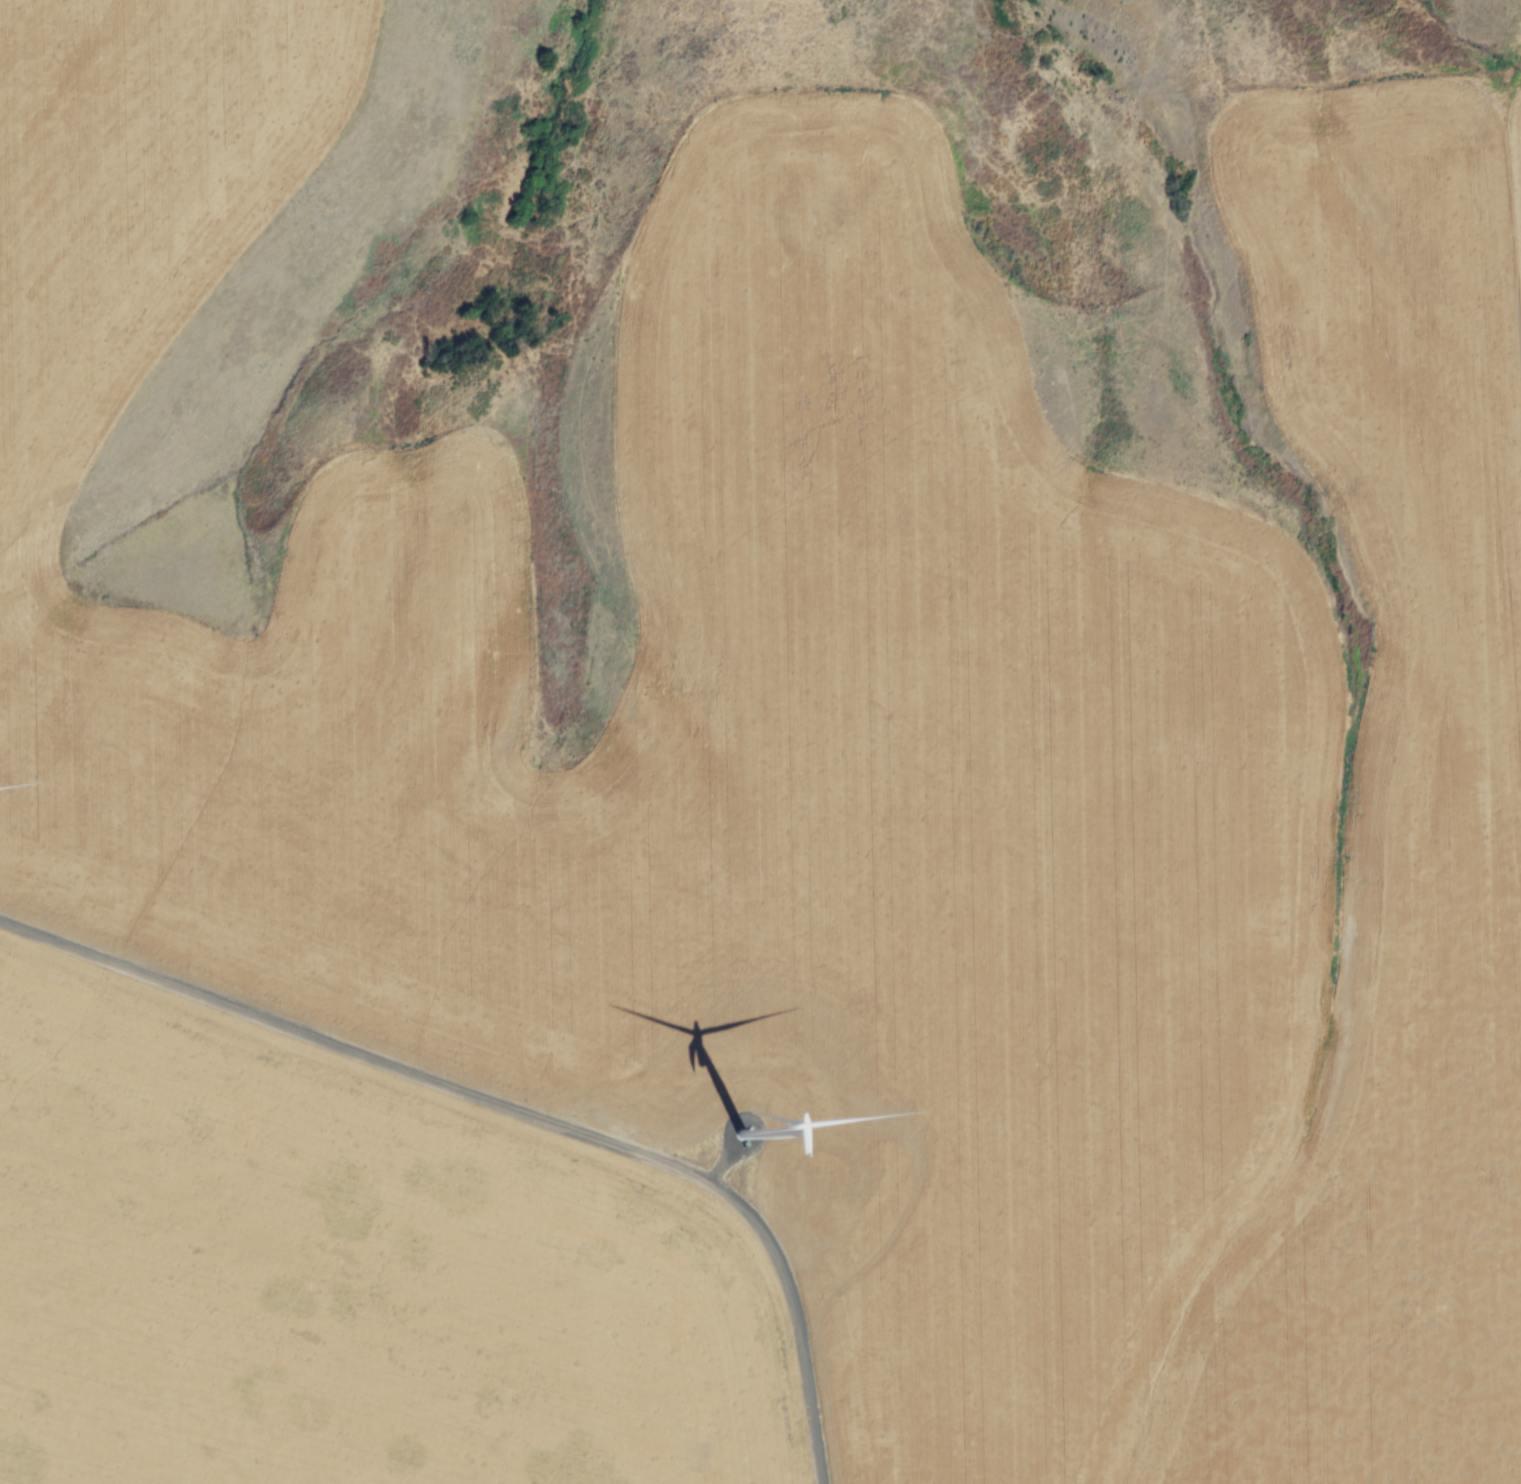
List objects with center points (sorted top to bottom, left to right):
wind turbine: (736, 1131)

